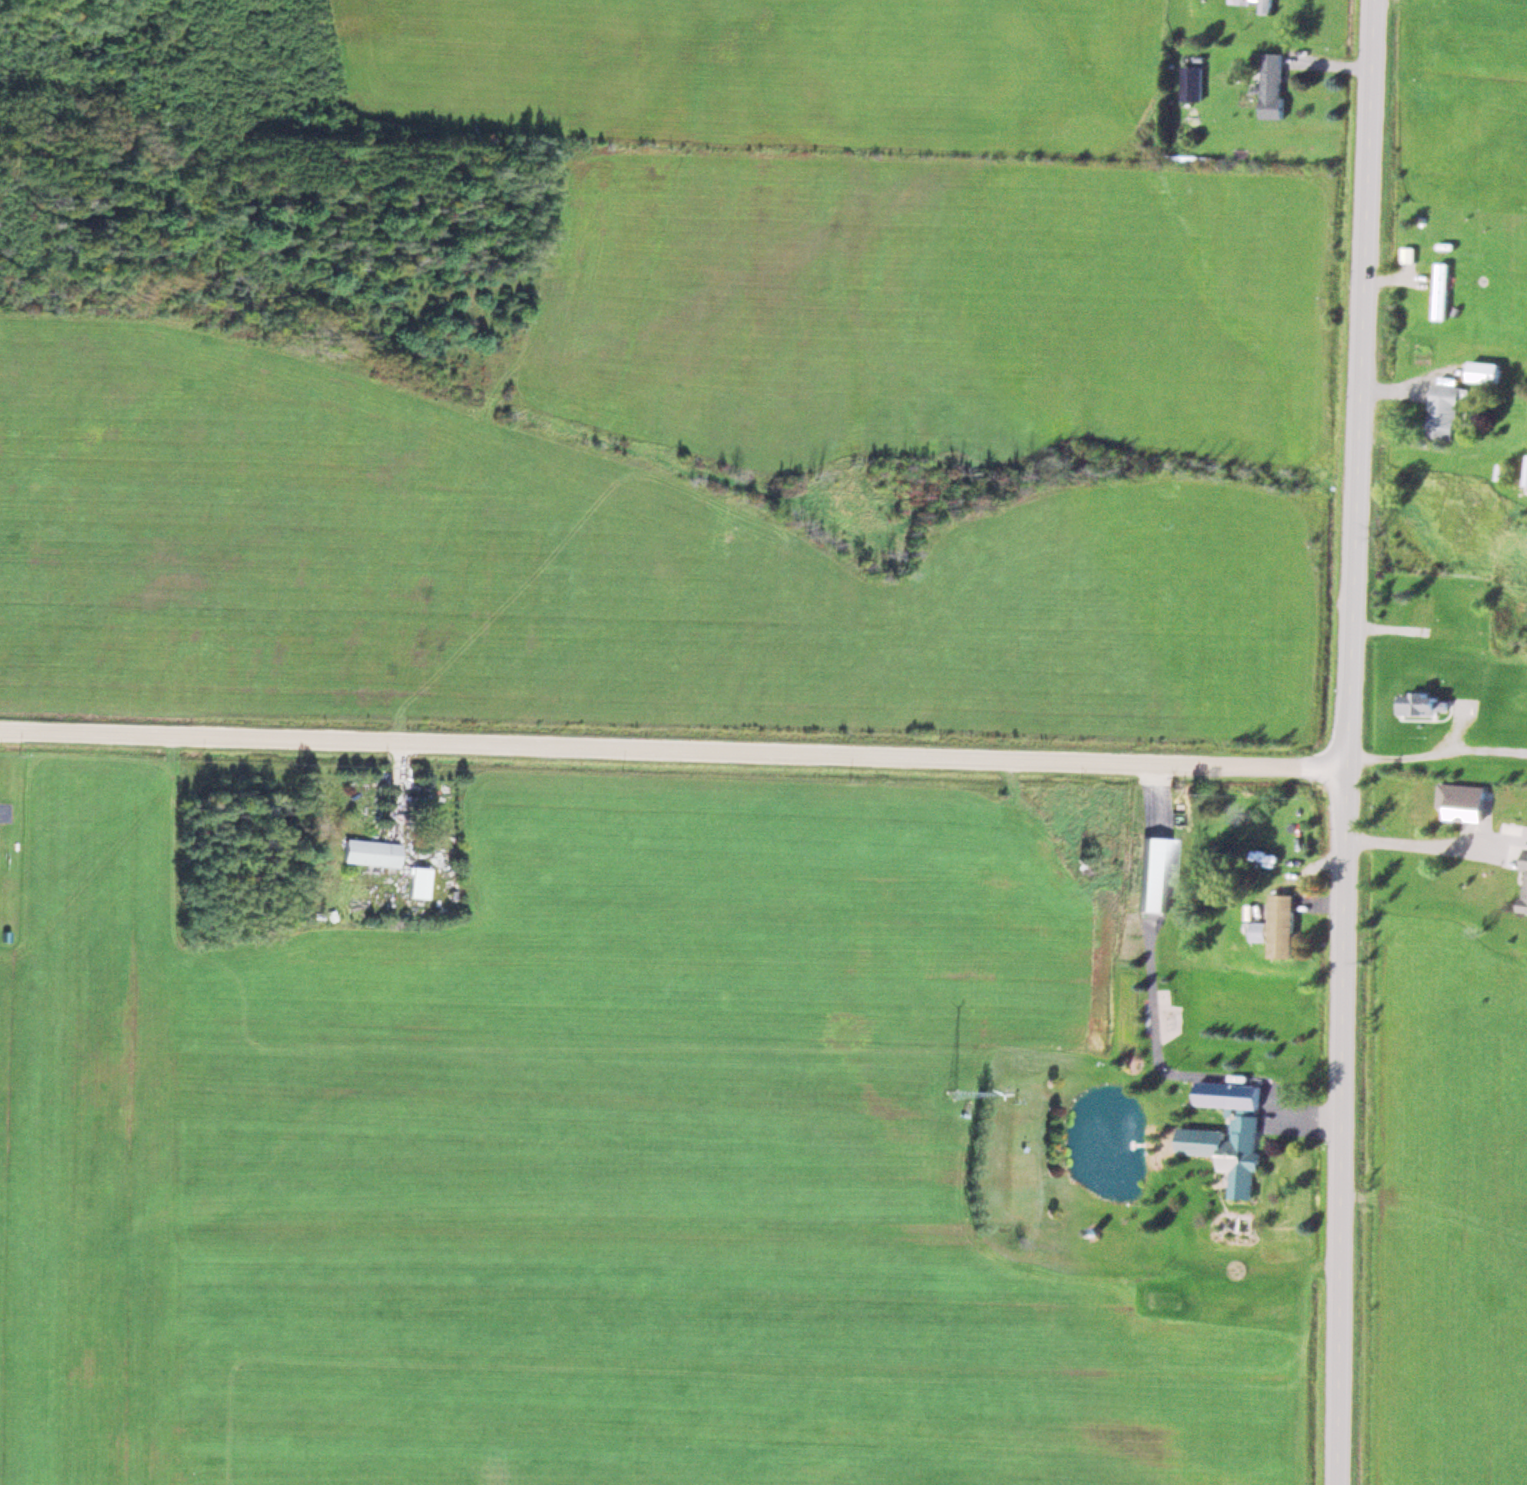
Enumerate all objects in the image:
building: (1239, 1)
building: (1264, 6)
building: (1190, 81)
building: (1270, 84)
building: (1439, 288)
building: (1482, 370)
building: (1442, 409)
building: (1526, 475)
building: (1426, 615)
building: (1421, 702)
road: (1344, 742)
road: (671, 749)
building: (366, 851)
building: (1153, 872)
building: (415, 881)
building: (1524, 886)
building: (1282, 925)
building: (1258, 930)
building: (1229, 1131)

